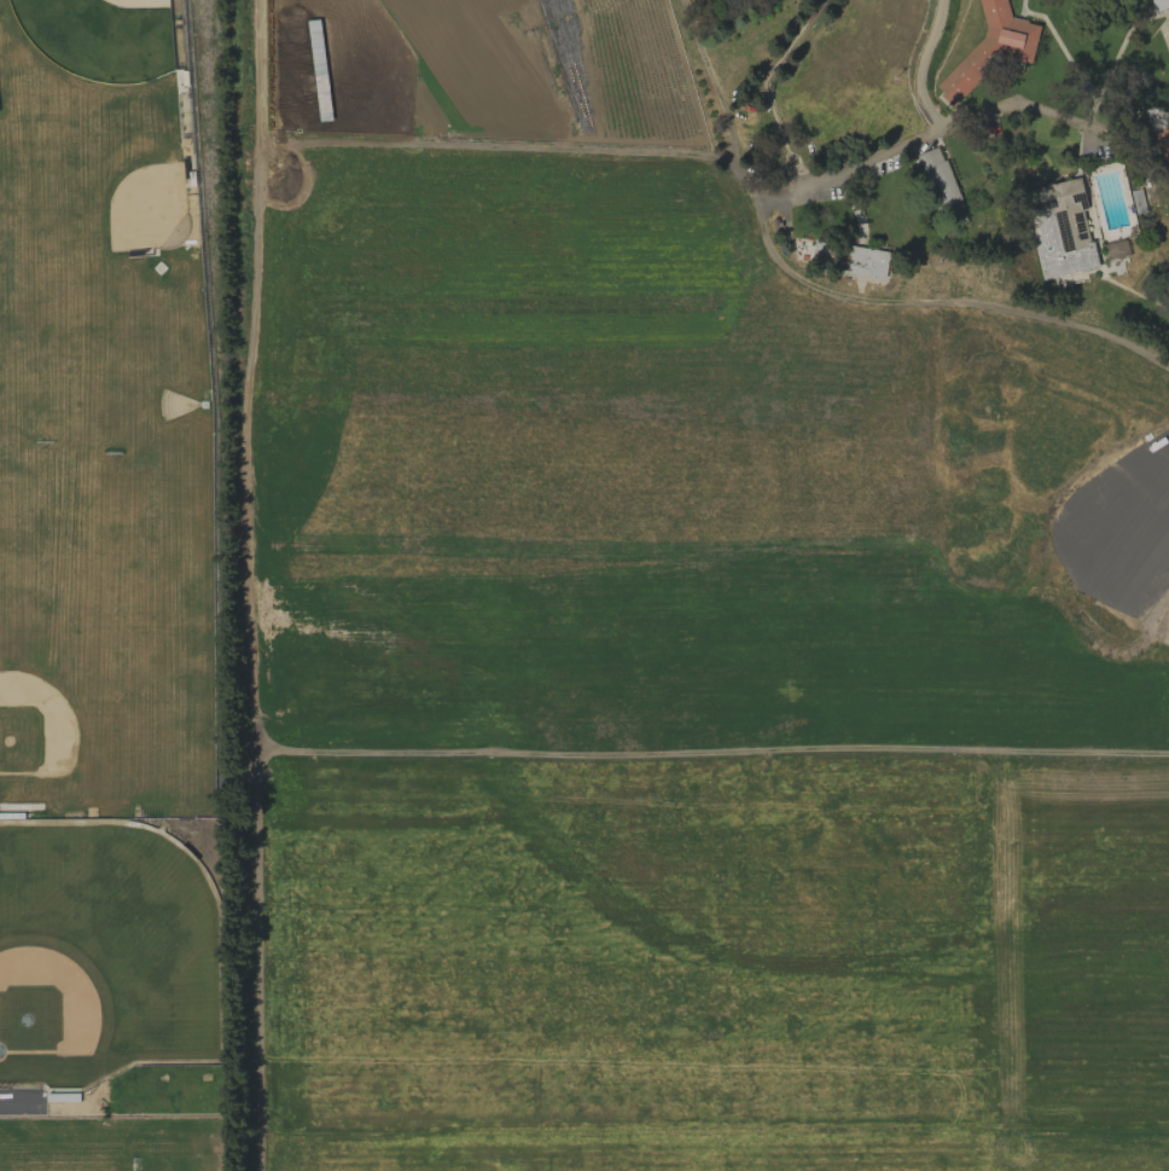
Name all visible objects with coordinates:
building: (1158, 4)
park: (101, 36)
building: (990, 48)
road: (1017, 102)
building: (1159, 128)
road: (908, 143)
road: (426, 144)
building: (937, 178)
park: (132, 184)
building: (1060, 228)
building: (865, 261)
road: (833, 292)
building: (1168, 341)
park: (56, 727)
road: (1066, 752)

